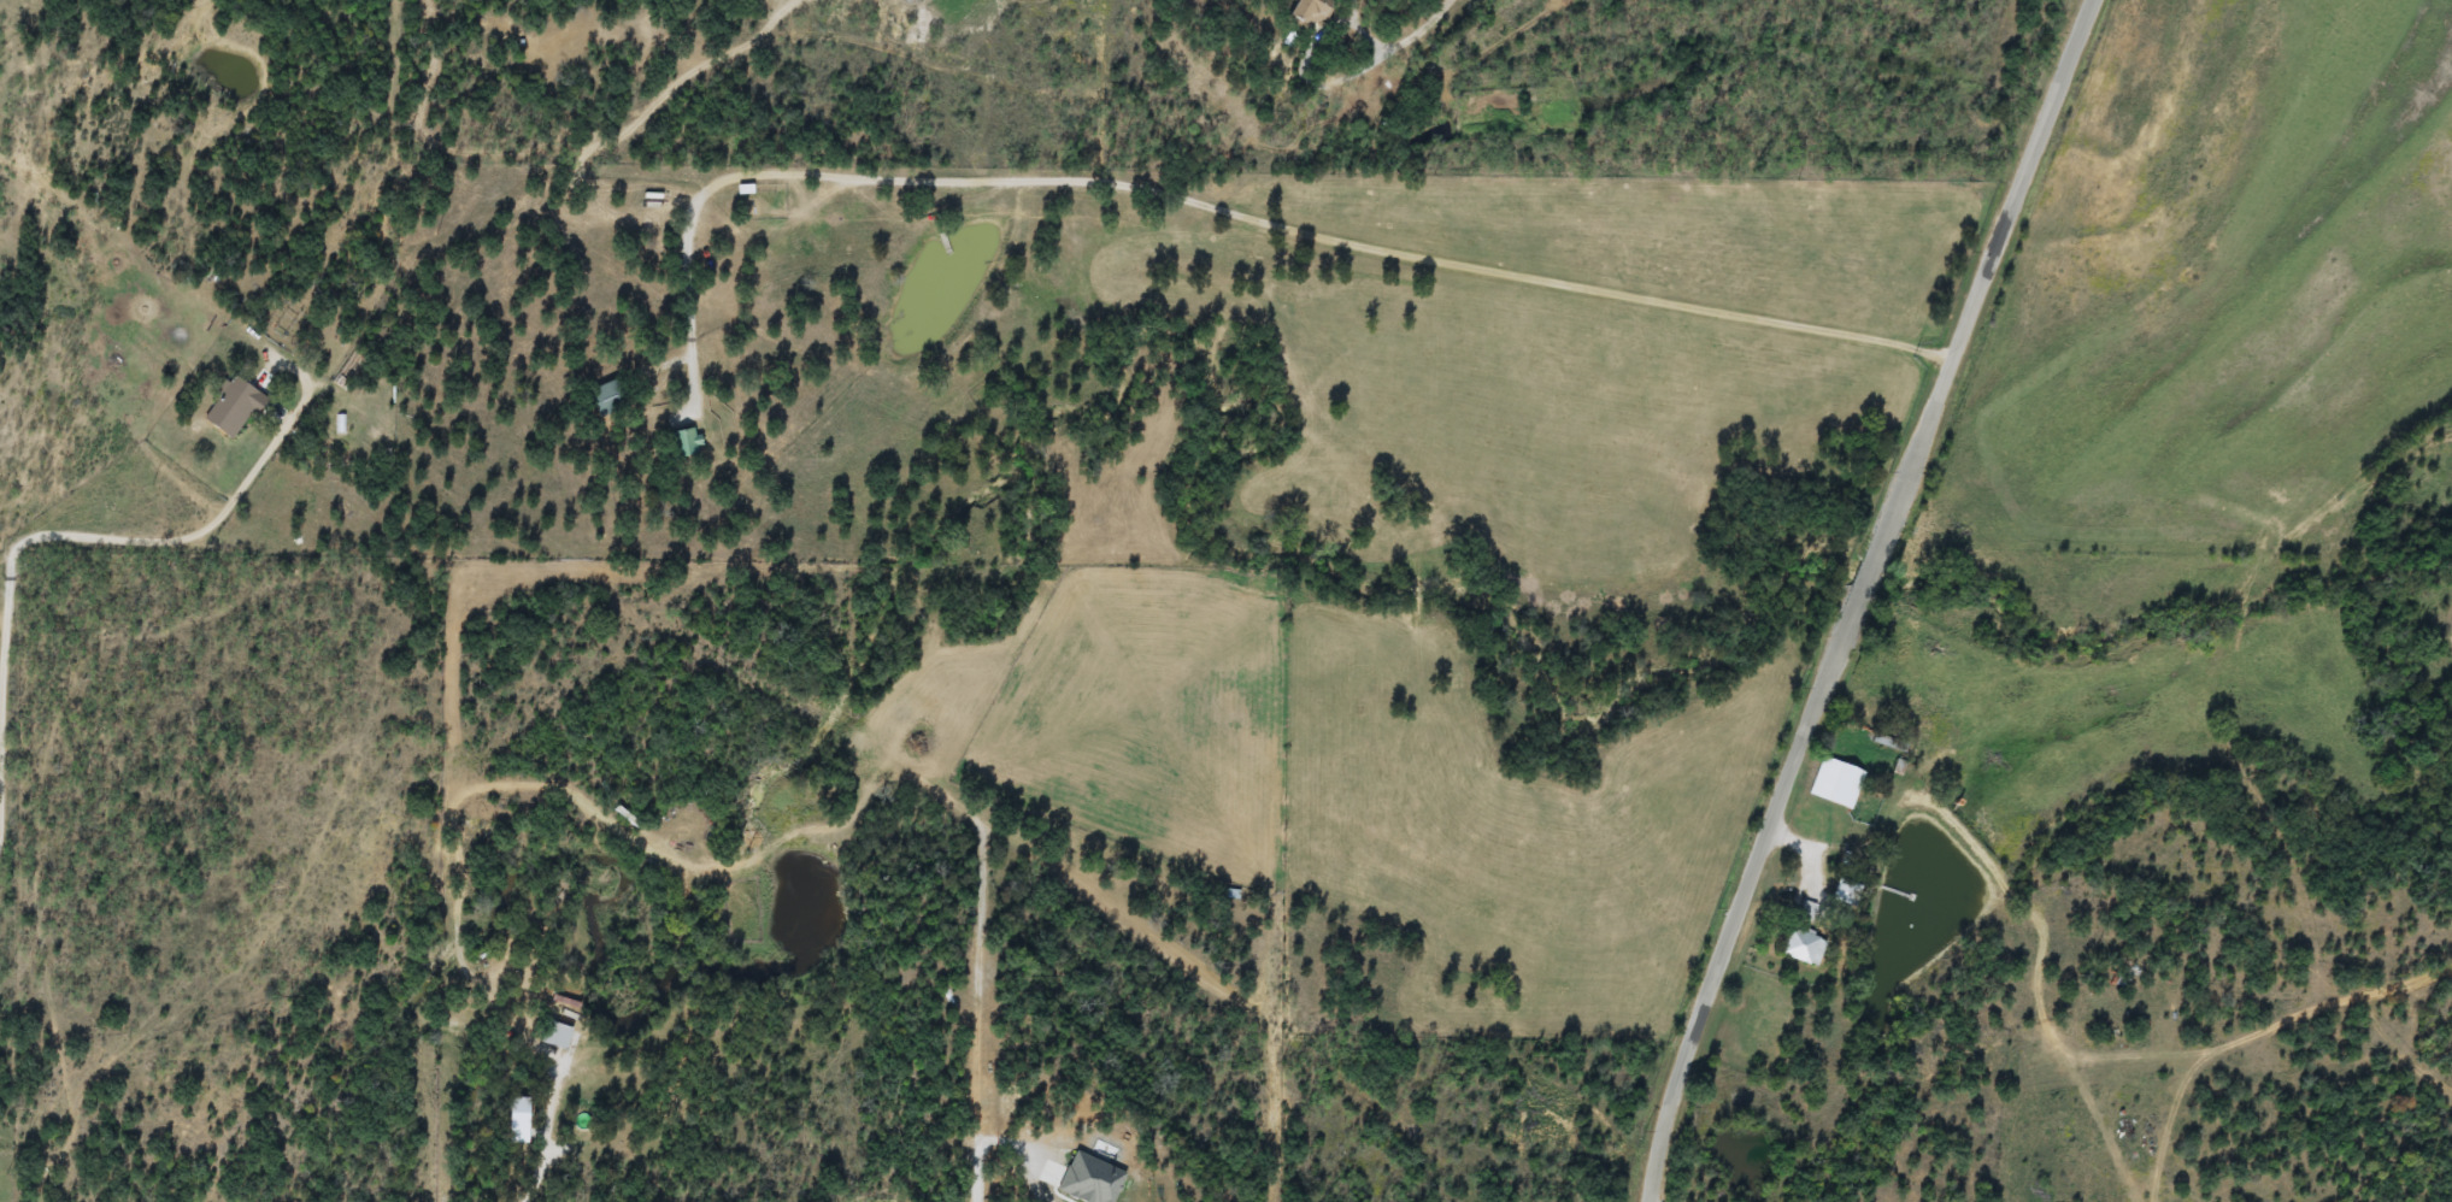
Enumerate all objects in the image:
building: (1311, 13)
road: (1401, 34)
road: (2013, 200)
building: (288, 323)
building: (607, 397)
building: (234, 407)
building: (684, 442)
road: (20, 552)
road: (1870, 564)
building: (1836, 783)
building: (1804, 945)
road: (1719, 961)
building: (555, 1036)
road: (541, 1173)
road: (978, 1177)

